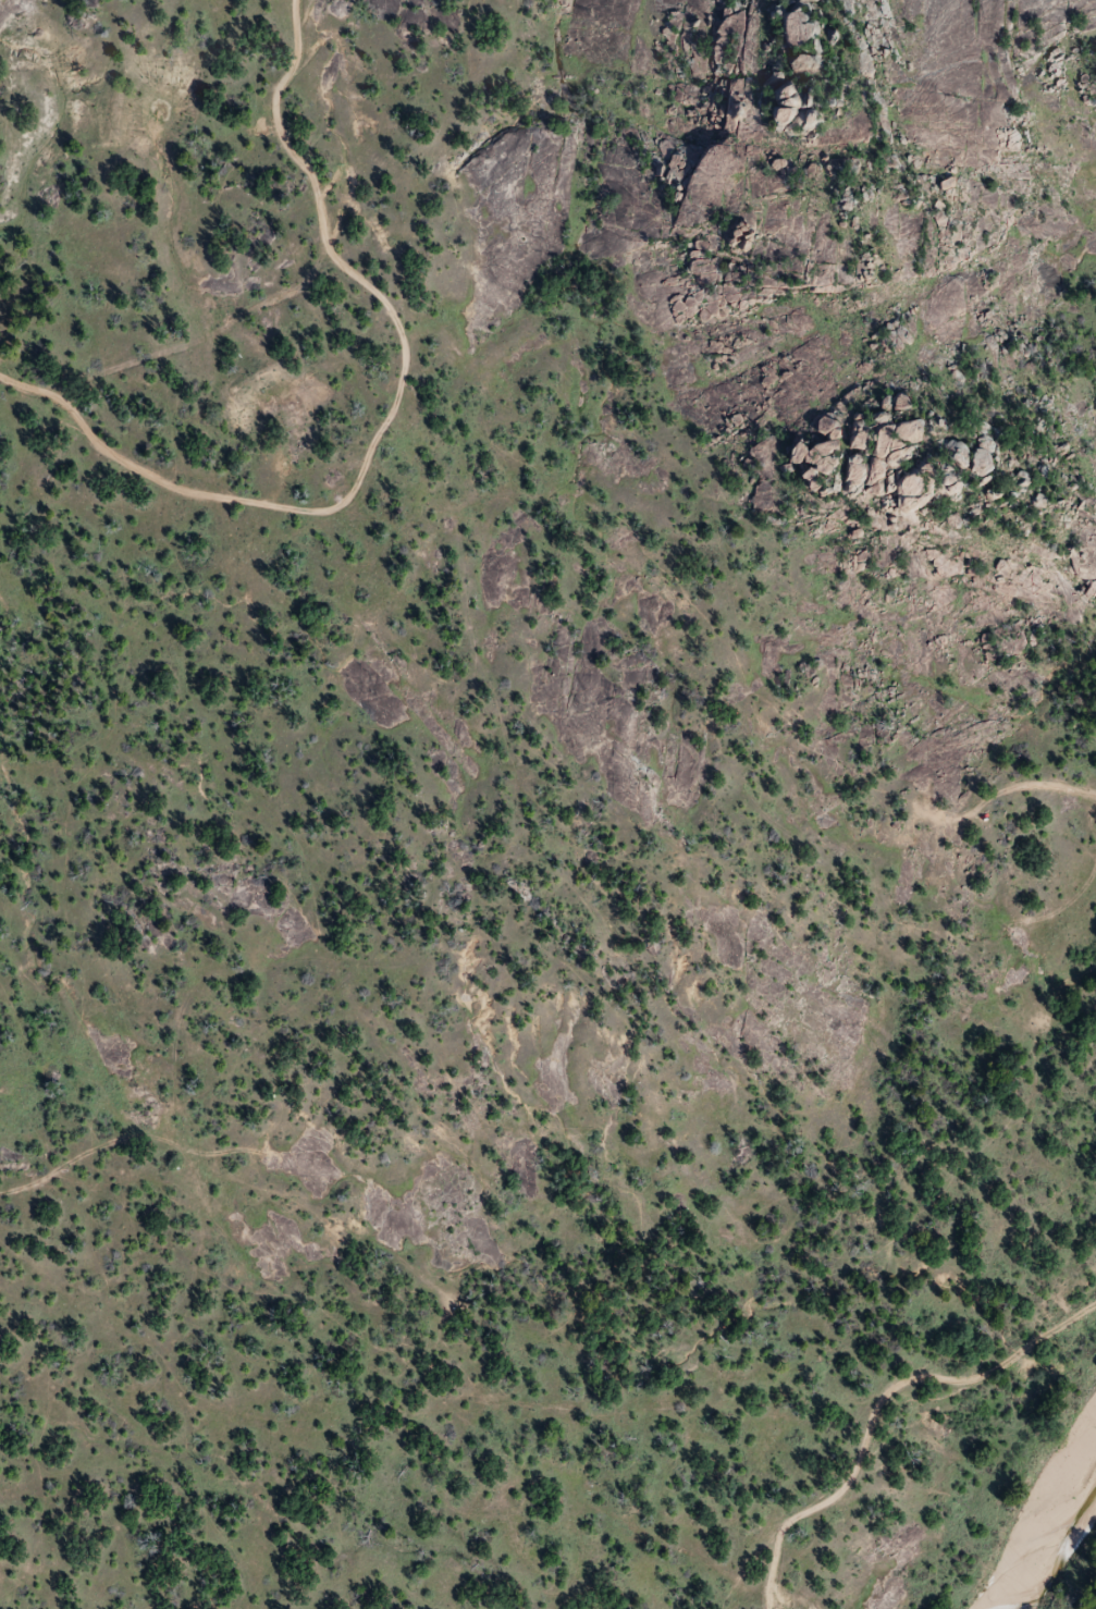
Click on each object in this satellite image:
building: (798, 455)
road: (879, 1403)
river: (1049, 1536)

